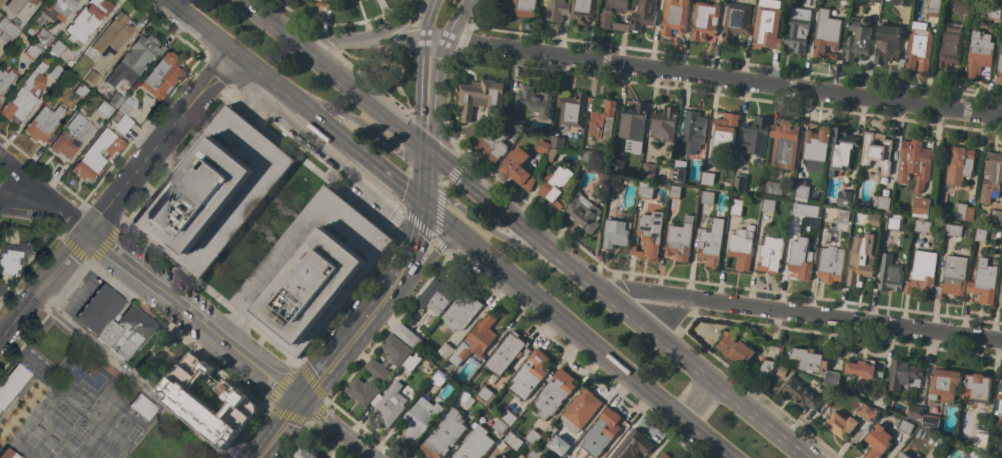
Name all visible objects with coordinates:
building: (872, 0)
building: (997, 0)
building: (341, 1)
building: (2, 2)
building: (902, 2)
building: (18, 4)
building: (323, 4)
building: (63, 5)
building: (961, 6)
building: (519, 7)
building: (933, 8)
building: (557, 10)
building: (584, 11)
building: (994, 12)
road: (292, 13)
building: (612, 14)
building: (643, 14)
road: (480, 15)
building: (674, 18)
building: (88, 19)
road: (457, 20)
building: (705, 21)
building: (736, 21)
road: (355, 22)
road: (397, 22)
building: (767, 25)
road: (196, 27)
building: (9, 28)
road: (427, 28)
building: (798, 29)
building: (113, 35)
building: (827, 35)
building: (44, 36)
building: (5, 38)
road: (322, 39)
road: (360, 39)
building: (858, 39)
road: (436, 40)
road: (460, 43)
building: (888, 45)
building: (58, 47)
road: (437, 49)
building: (918, 49)
building: (951, 49)
building: (32, 51)
building: (978, 54)
building: (137, 57)
road: (386, 63)
building: (999, 67)
park: (385, 68)
building: (57, 71)
road: (216, 72)
road: (332, 74)
building: (161, 76)
building: (92, 77)
building: (6, 78)
road: (724, 78)
road: (368, 82)
building: (82, 89)
road: (167, 94)
building: (25, 95)
building: (480, 96)
building: (116, 98)
building: (536, 101)
road: (426, 103)
building: (0, 105)
building: (125, 107)
building: (104, 108)
road: (446, 110)
building: (572, 112)
road: (348, 116)
road: (426, 119)
building: (603, 121)
building: (44, 123)
building: (123, 123)
building: (664, 123)
building: (515, 124)
road: (326, 127)
building: (633, 127)
building: (725, 129)
building: (470, 131)
building: (693, 131)
building: (72, 136)
building: (756, 136)
road: (158, 141)
building: (557, 142)
building: (491, 144)
building: (784, 144)
building: (816, 144)
building: (543, 147)
traffic signals: (424, 149)
building: (843, 149)
building: (877, 151)
building: (97, 154)
building: (551, 154)
building: (586, 156)
road: (177, 159)
road: (332, 162)
building: (916, 162)
building: (760, 164)
building: (618, 165)
building: (960, 165)
building: (518, 168)
building: (648, 170)
building: (679, 171)
building: (602, 175)
road: (423, 176)
building: (991, 177)
building: (708, 178)
building: (739, 182)
building: (614, 184)
building: (556, 185)
building: (773, 188)
building: (215, 191)
building: (645, 191)
building: (802, 191)
building: (675, 192)
road: (43, 193)
road: (440, 193)
building: (707, 197)
building: (845, 198)
road: (83, 201)
building: (881, 202)
road: (493, 203)
traffic signals: (422, 204)
road: (32, 205)
building: (768, 206)
building: (922, 206)
building: (736, 207)
building: (798, 209)
building: (583, 212)
building: (965, 213)
building: (843, 215)
building: (996, 217)
building: (874, 220)
road: (416, 223)
building: (893, 223)
building: (922, 225)
road: (489, 230)
building: (953, 230)
park: (264, 231)
road: (264, 232)
building: (980, 233)
building: (617, 234)
building: (649, 235)
building: (826, 237)
building: (680, 239)
building: (711, 243)
building: (742, 247)
building: (16, 253)
building: (771, 254)
building: (800, 258)
building: (861, 260)
road: (88, 261)
road: (423, 261)
building: (831, 264)
road: (28, 271)
building: (313, 271)
building: (922, 272)
building: (890, 274)
building: (953, 276)
building: (984, 281)
road: (43, 282)
building: (3, 288)
building: (437, 295)
road: (348, 299)
building: (1001, 300)
building: (99, 309)
road: (147, 309)
road: (373, 309)
building: (461, 312)
road: (803, 313)
road: (194, 315)
road: (386, 328)
road: (574, 330)
building: (128, 332)
building: (407, 335)
building: (475, 340)
building: (54, 342)
building: (735, 348)
building: (445, 350)
building: (507, 353)
road: (684, 358)
building: (38, 360)
building: (412, 362)
building: (816, 364)
building: (766, 366)
building: (112, 369)
building: (864, 369)
building: (378, 370)
building: (782, 370)
building: (530, 374)
building: (907, 375)
road: (130, 376)
building: (438, 378)
building: (13, 383)
building: (944, 383)
building: (977, 388)
building: (554, 393)
building: (801, 393)
building: (462, 395)
building: (484, 395)
building: (183, 399)
road: (696, 400)
building: (880, 400)
building: (391, 404)
building: (143, 406)
building: (999, 406)
building: (581, 407)
building: (482, 408)
building: (915, 411)
building: (866, 412)
building: (509, 417)
road: (295, 419)
building: (419, 420)
building: (930, 422)
building: (840, 423)
building: (499, 426)
building: (905, 426)
road: (278, 429)
road: (335, 430)
building: (601, 432)
building: (443, 436)
building: (533, 437)
building: (510, 438)
road: (665, 438)
building: (981, 440)
road: (296, 441)
building: (878, 441)
building: (475, 444)
building: (560, 444)
building: (632, 445)
building: (305, 453)
building: (535, 453)
building: (1001, 453)
building: (9, 454)
building: (902, 455)
building: (973, 455)
building: (666, 456)
building: (494, 457)

